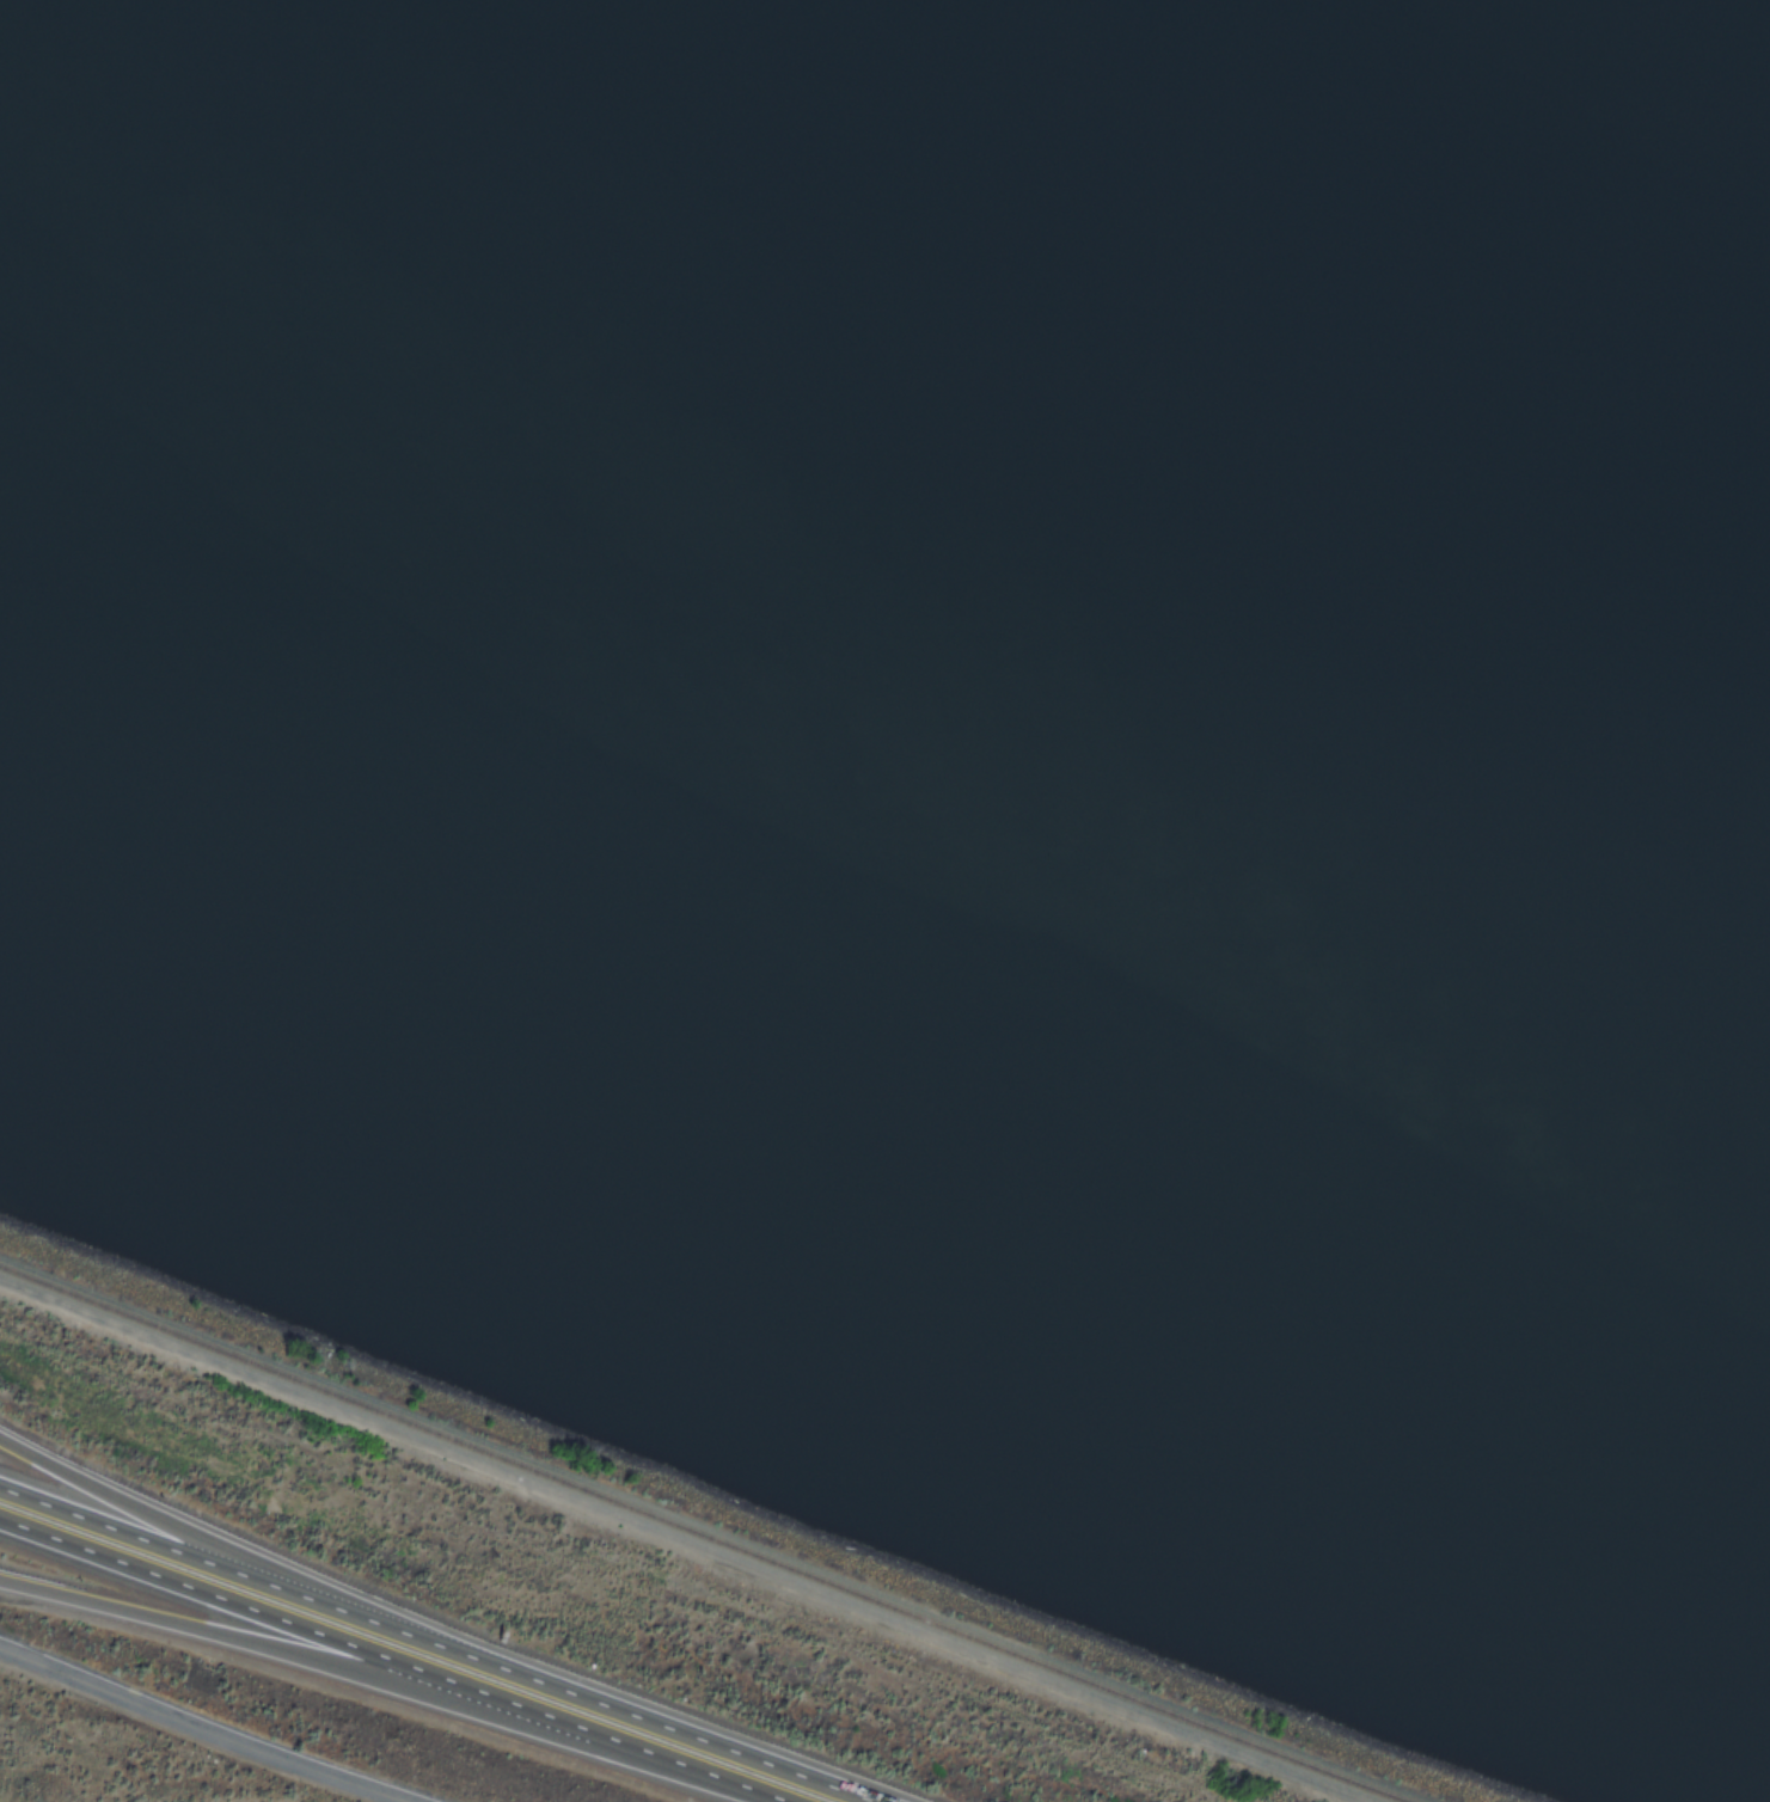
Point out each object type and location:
road: (213, 1541)
railway: (709, 1545)
road: (259, 1645)
road: (440, 1650)
road: (392, 1668)
road: (197, 1728)

